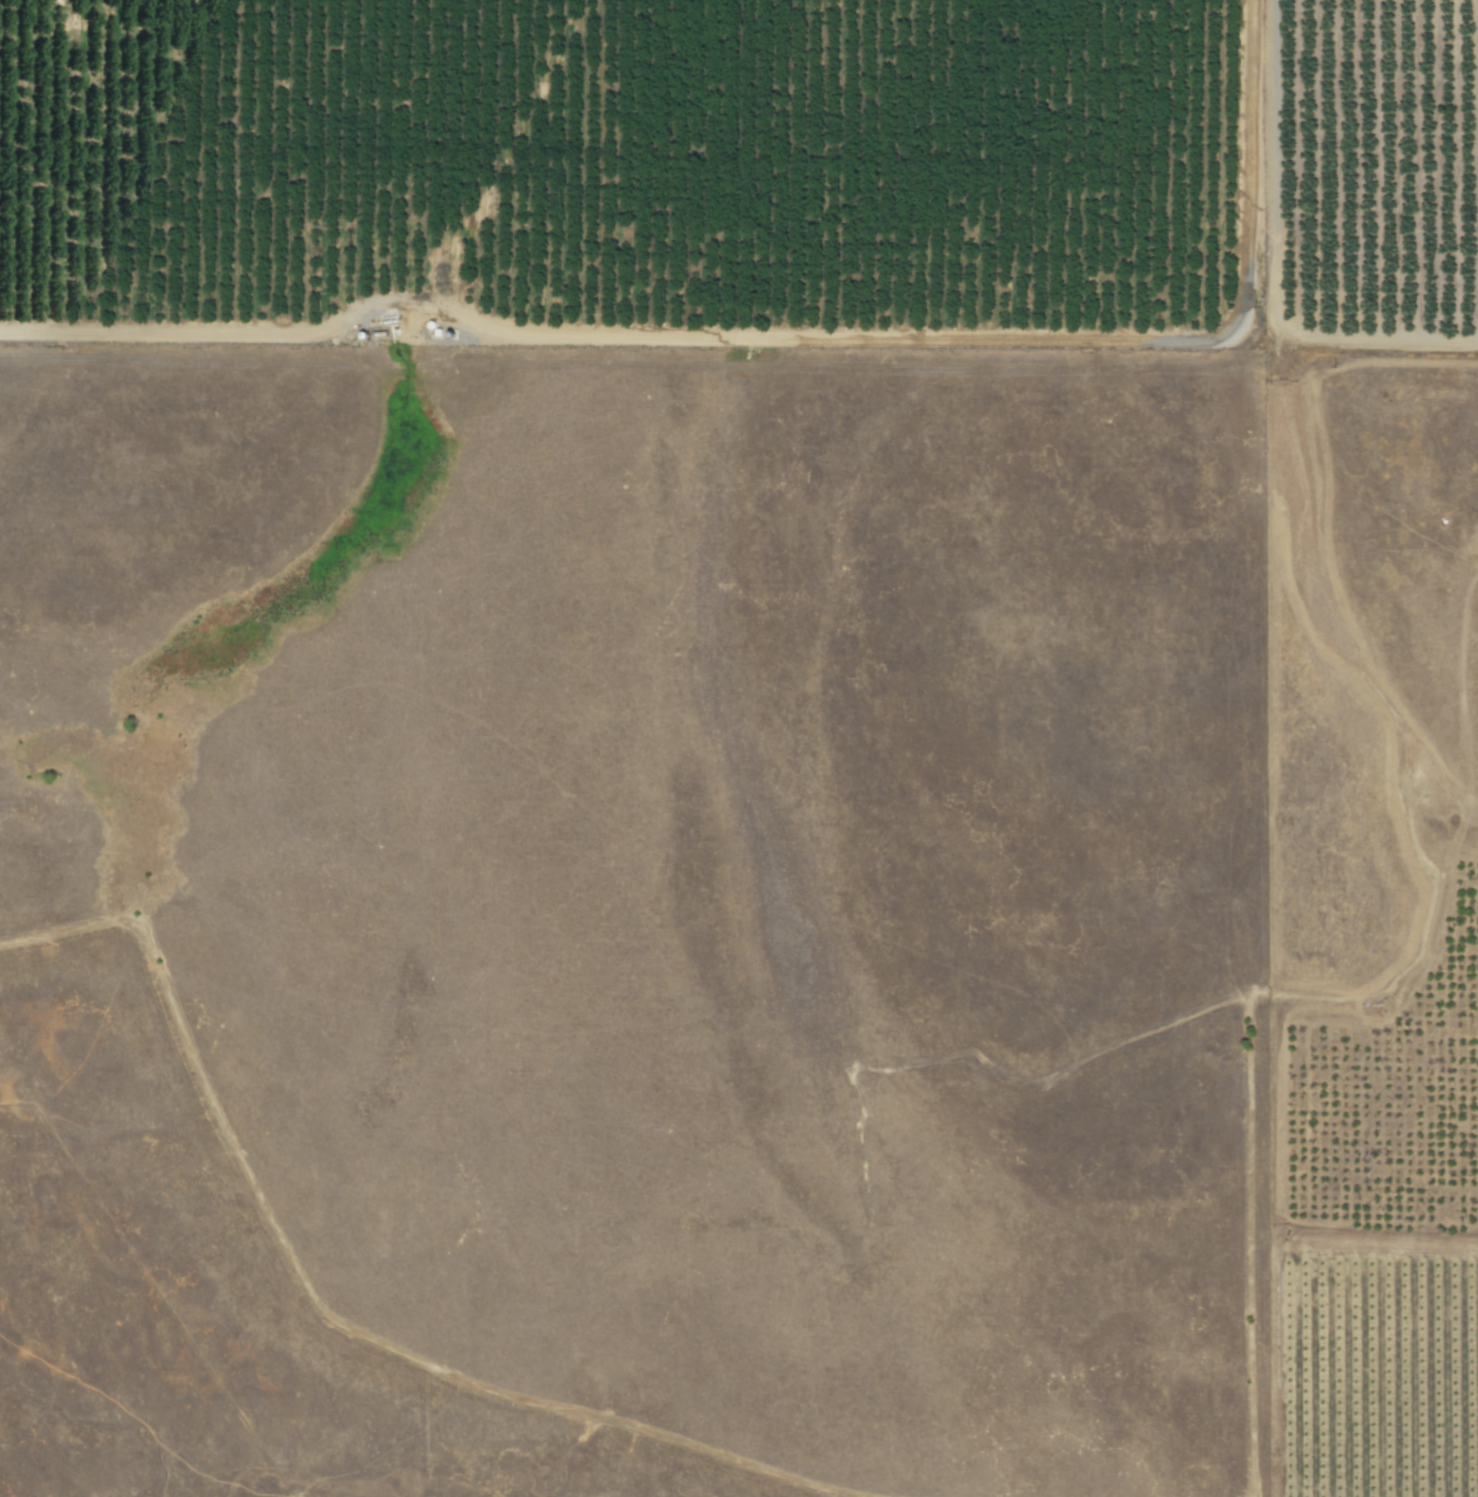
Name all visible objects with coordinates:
road: (774, 340)

